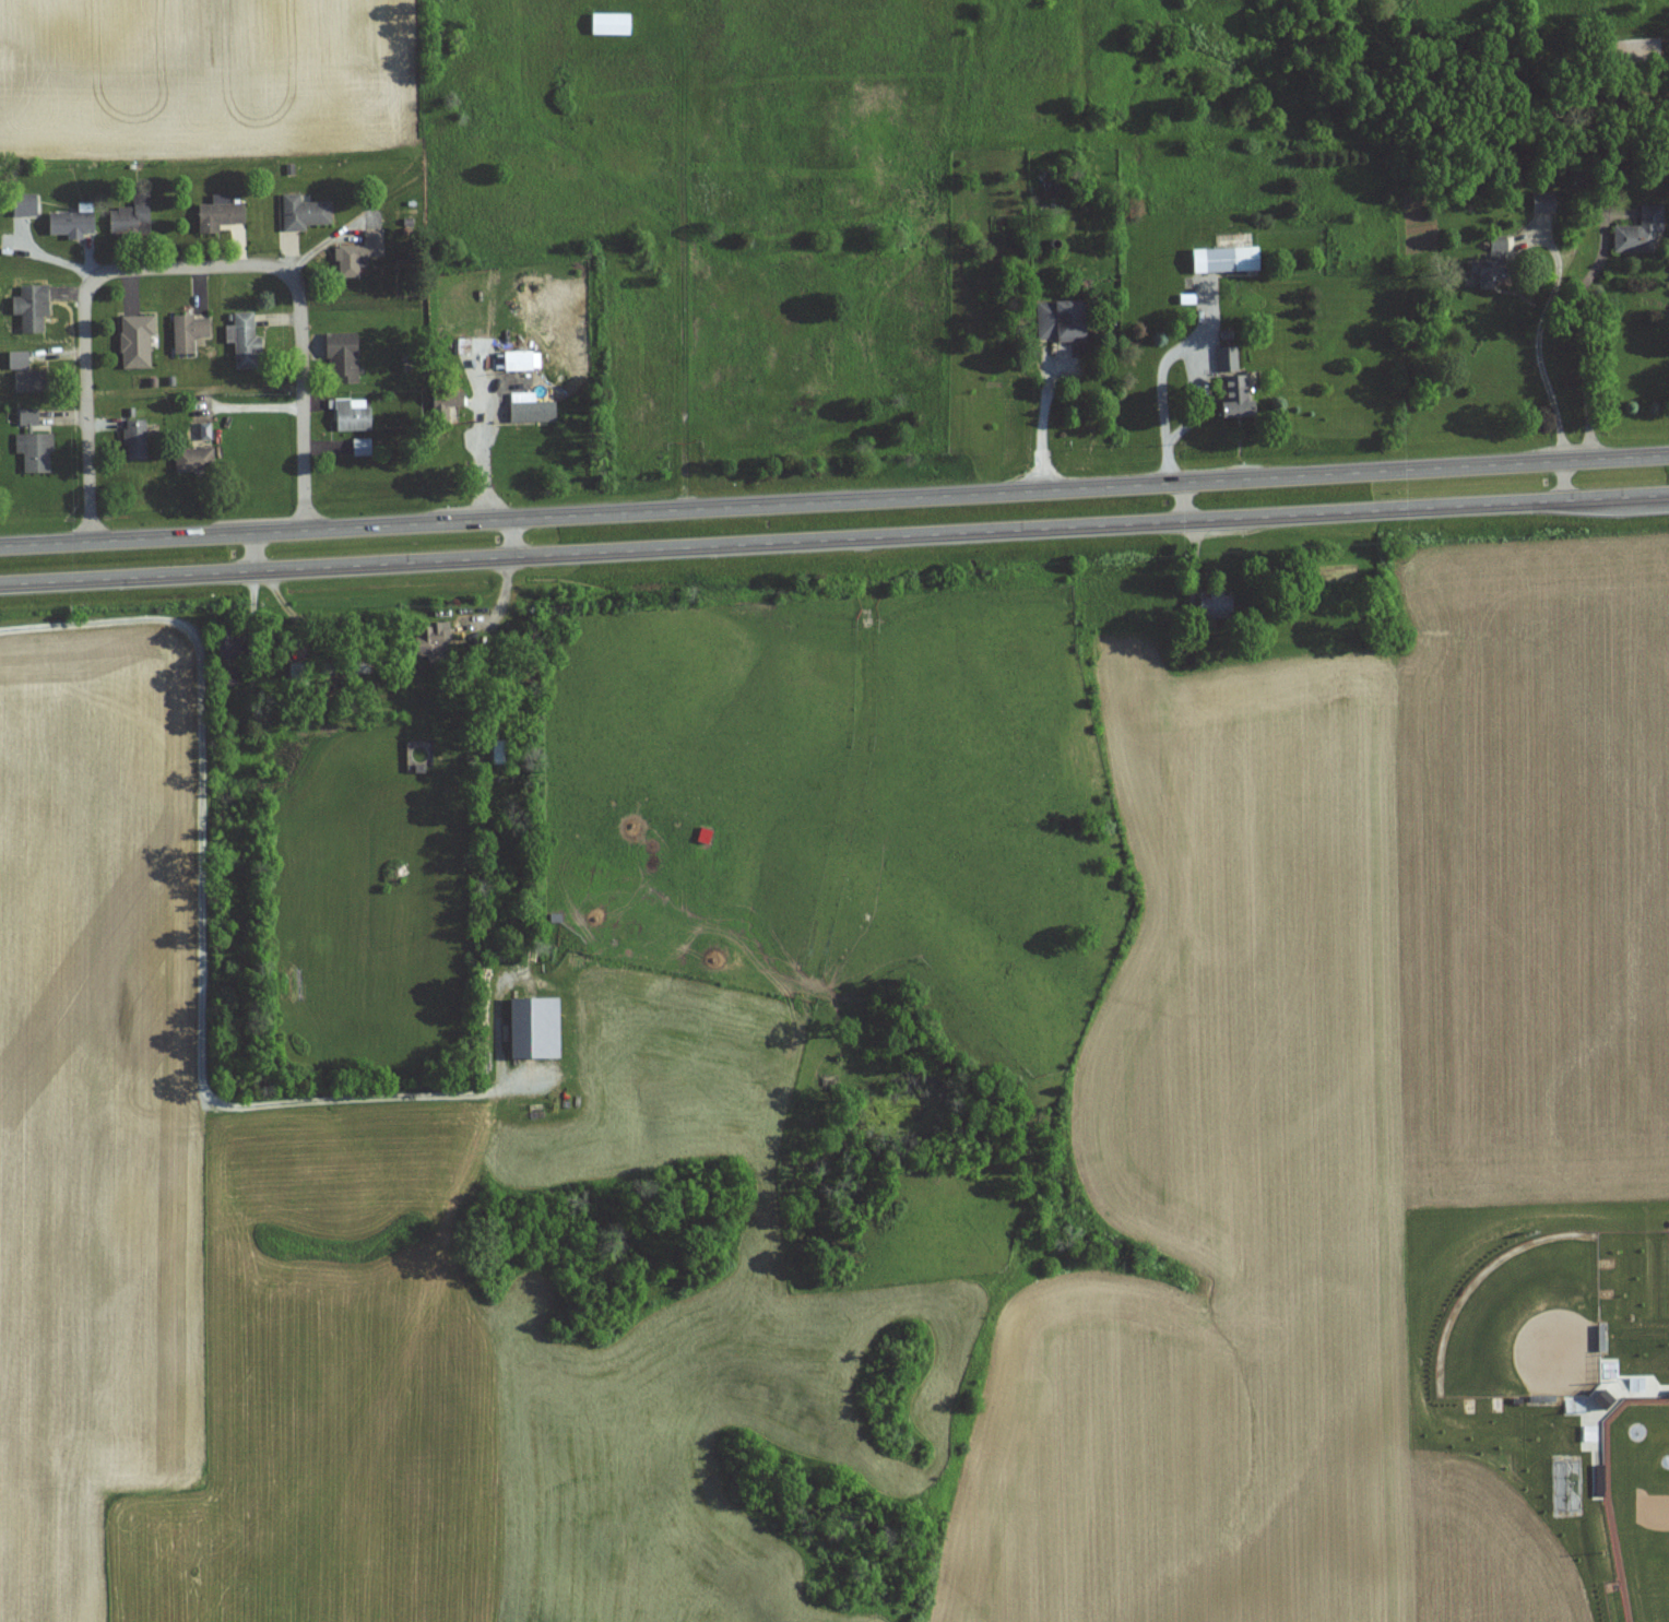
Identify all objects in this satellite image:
building: (616, 25)
building: (1549, 203)
building: (28, 206)
building: (308, 213)
building: (223, 214)
building: (76, 223)
building: (1647, 233)
building: (363, 254)
building: (1231, 260)
road: (187, 267)
building: (1500, 267)
building: (35, 308)
building: (1067, 321)
building: (191, 333)
road: (1539, 335)
building: (140, 342)
building: (248, 342)
road: (1587, 343)
building: (350, 356)
building: (22, 360)
building: (526, 362)
building: (35, 381)
road: (193, 389)
building: (1241, 389)
building: (537, 413)
building: (354, 415)
road: (1043, 423)
building: (208, 431)
building: (139, 440)
building: (37, 443)
building: (365, 448)
road: (488, 454)
building: (192, 461)
road: (1562, 482)
road: (1186, 502)
road: (834, 504)
road: (516, 540)
road: (834, 542)
road: (255, 553)
building: (1222, 603)
building: (441, 636)
building: (235, 647)
building: (505, 751)
road: (201, 923)
building: (541, 1028)
park: (1525, 1323)

